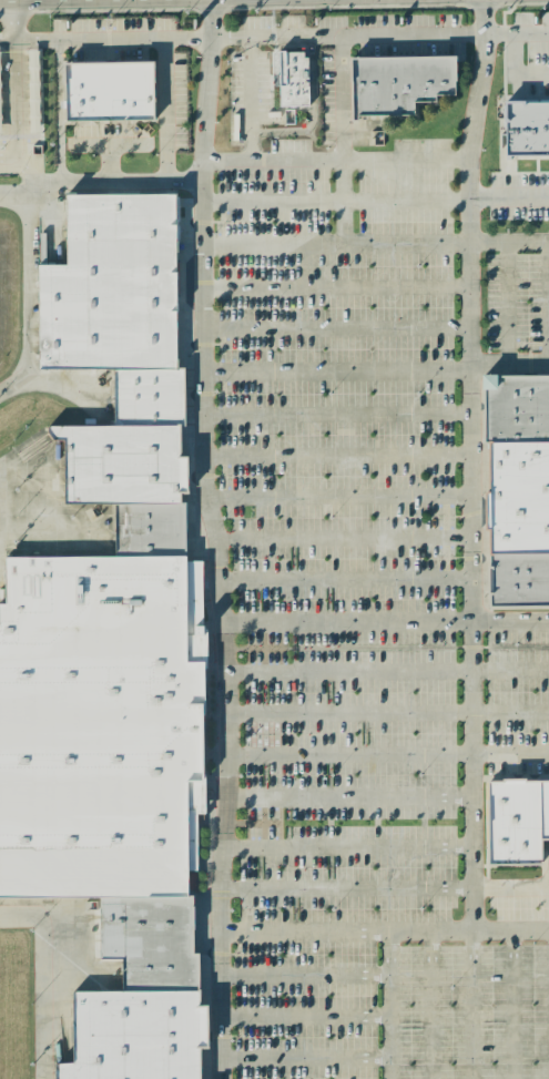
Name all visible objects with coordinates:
road: (516, 31)
road: (226, 35)
building: (33, 55)
road: (514, 71)
building: (291, 77)
building: (397, 82)
building: (106, 90)
road: (10, 121)
road: (251, 122)
road: (165, 128)
building: (526, 129)
road: (342, 136)
road: (359, 160)
road: (60, 164)
road: (32, 197)
road: (334, 201)
road: (507, 201)
road: (376, 240)
building: (110, 281)
road: (334, 286)
road: (29, 299)
road: (547, 302)
road: (507, 303)
road: (335, 328)
road: (509, 364)
road: (336, 368)
building: (148, 395)
building: (516, 407)
road: (336, 414)
road: (337, 455)
road: (470, 462)
building: (120, 465)
building: (517, 496)
road: (340, 499)
building: (146, 528)
road: (216, 539)
road: (343, 539)
road: (345, 579)
building: (518, 580)
road: (386, 620)
parking lot: (367, 623)
road: (387, 670)
road: (387, 711)
building: (99, 723)
road: (387, 750)
road: (349, 797)
building: (515, 818)
road: (348, 846)
road: (386, 889)
road: (386, 928)
building: (154, 940)
road: (305, 973)
road: (45, 976)
road: (387, 1002)
road: (429, 1004)
road: (472, 1004)
road: (511, 1004)
road: (305, 1015)
building: (134, 1035)
road: (305, 1057)

